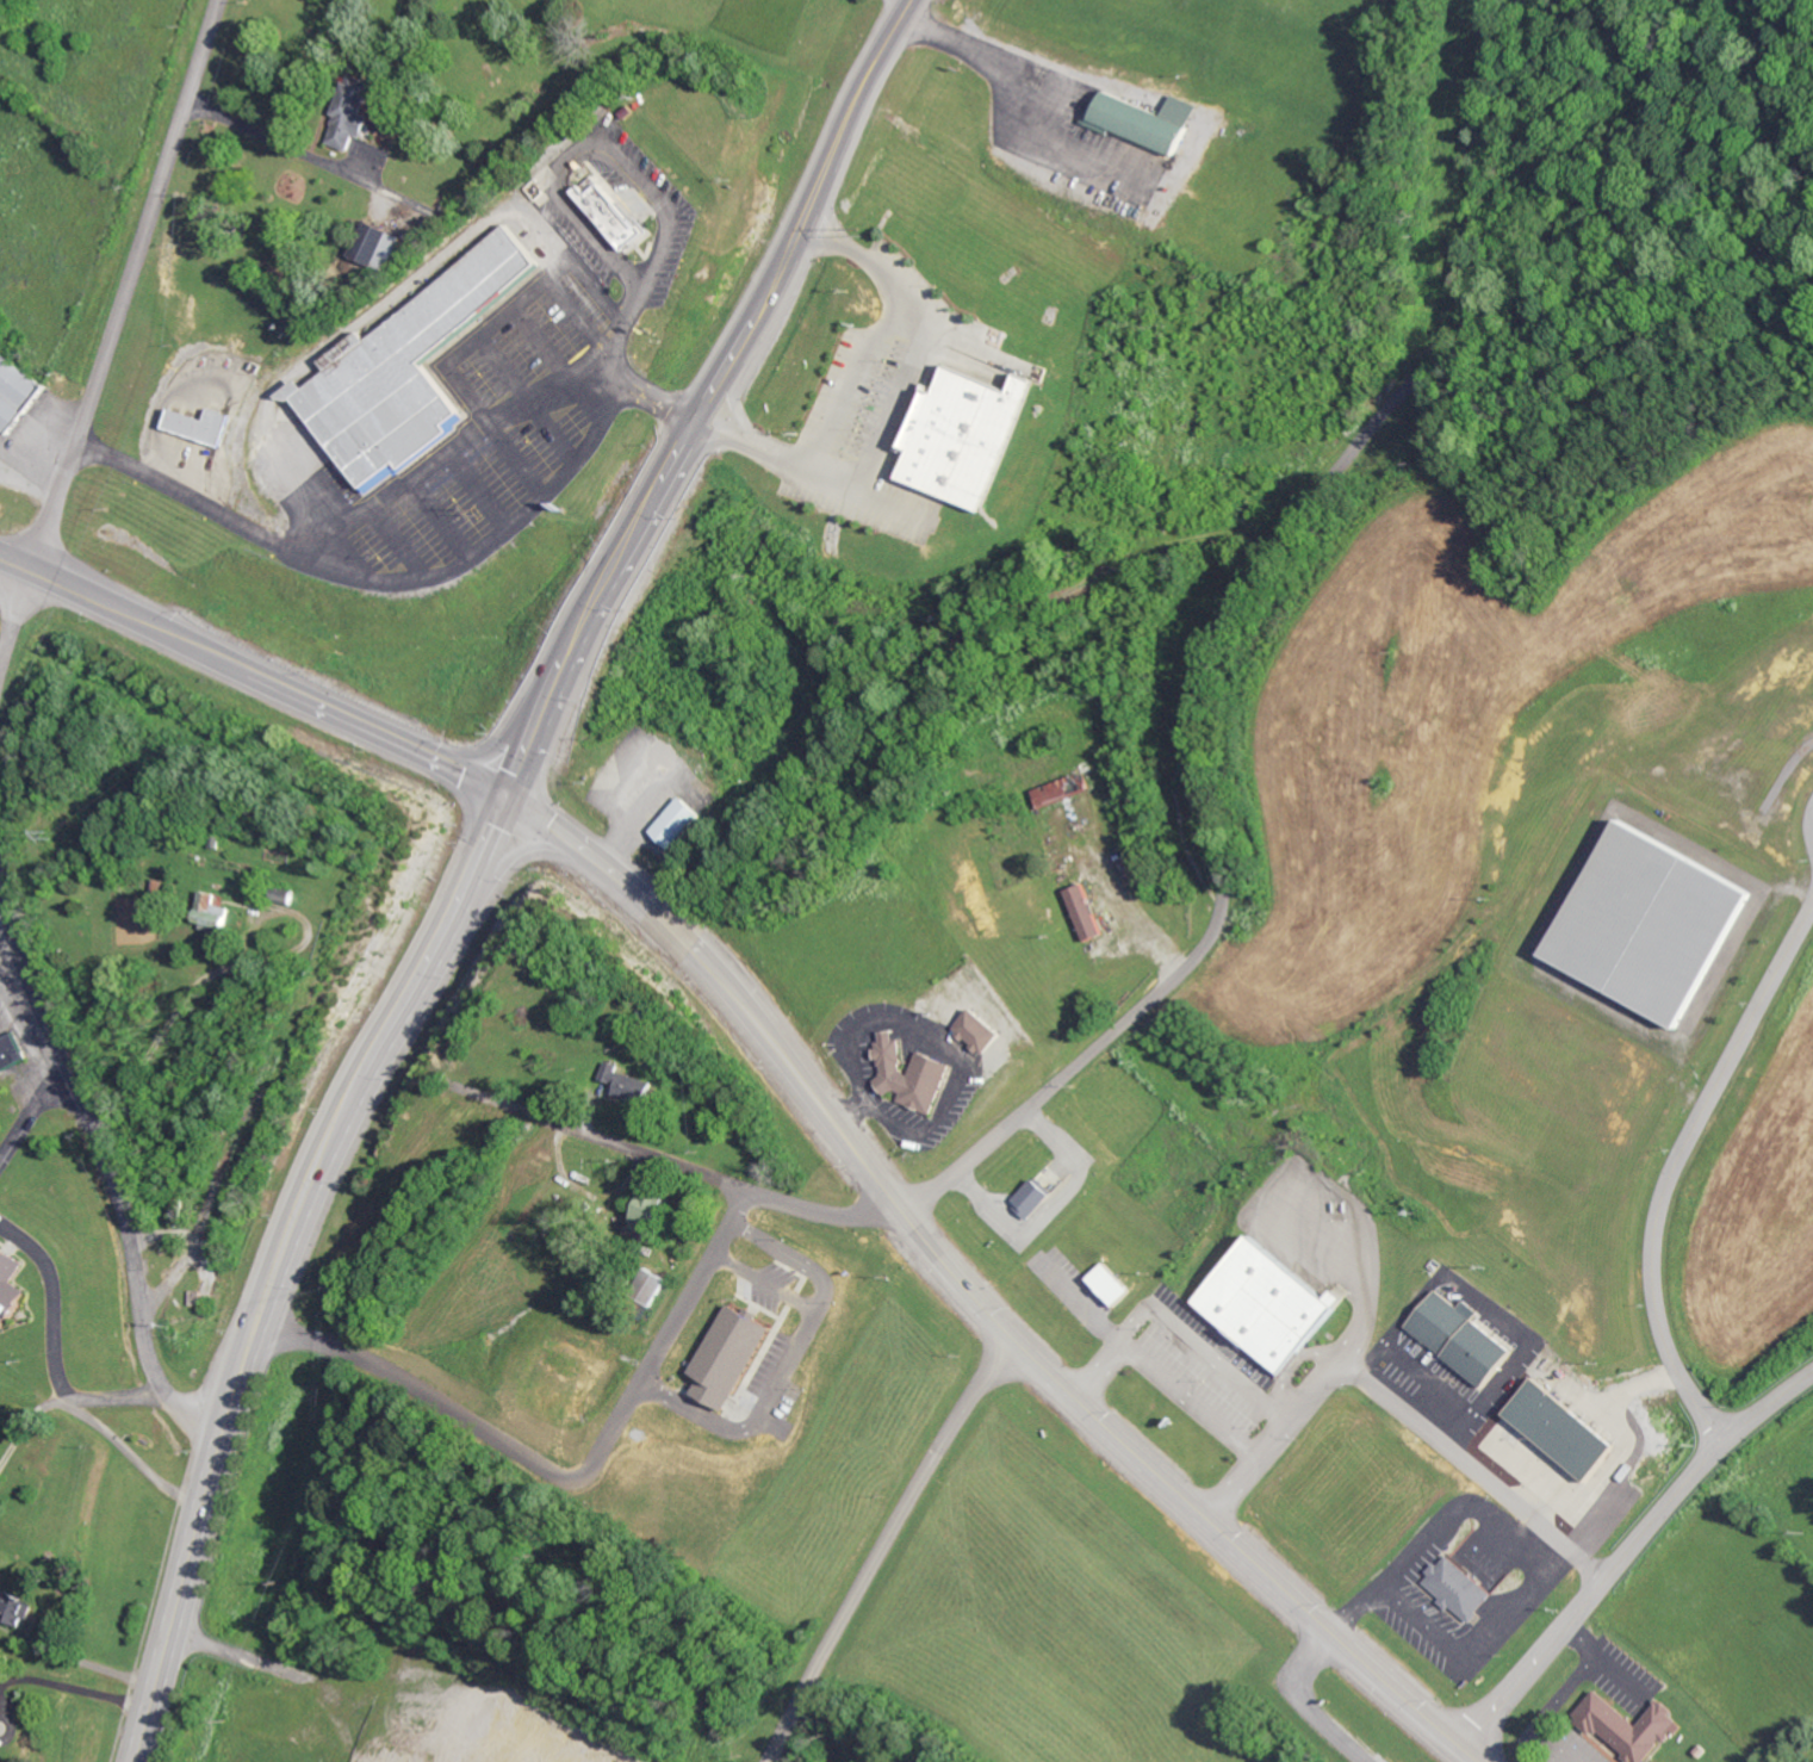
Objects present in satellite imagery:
road: (902, 5)
road: (856, 108)
building: (353, 111)
building: (1145, 118)
road: (271, 138)
road: (622, 161)
building: (609, 209)
building: (375, 244)
road: (105, 341)
building: (403, 366)
road: (620, 371)
road: (845, 381)
building: (13, 391)
building: (198, 423)
building: (968, 434)
road: (644, 507)
road: (1216, 633)
road: (250, 670)
building: (1061, 788)
building: (676, 821)
building: (1082, 911)
building: (215, 913)
building: (1651, 923)
road: (6, 930)
building: (979, 1030)
building: (11, 1050)
road: (601, 1067)
building: (908, 1074)
building: (625, 1081)
road: (397, 1097)
road: (671, 1162)
road: (108, 1167)
road: (1675, 1170)
building: (1031, 1197)
building: (650, 1214)
road: (192, 1235)
road: (271, 1264)
building: (1111, 1283)
building: (8, 1286)
road: (964, 1298)
building: (1272, 1304)
road: (1178, 1328)
building: (1460, 1336)
building: (728, 1355)
road: (1395, 1403)
building: (1561, 1429)
road: (1618, 1447)
road: (1628, 1553)
road: (1386, 1581)
building: (1457, 1587)
road: (1087, 1605)
building: (15, 1606)
building: (1627, 1724)

